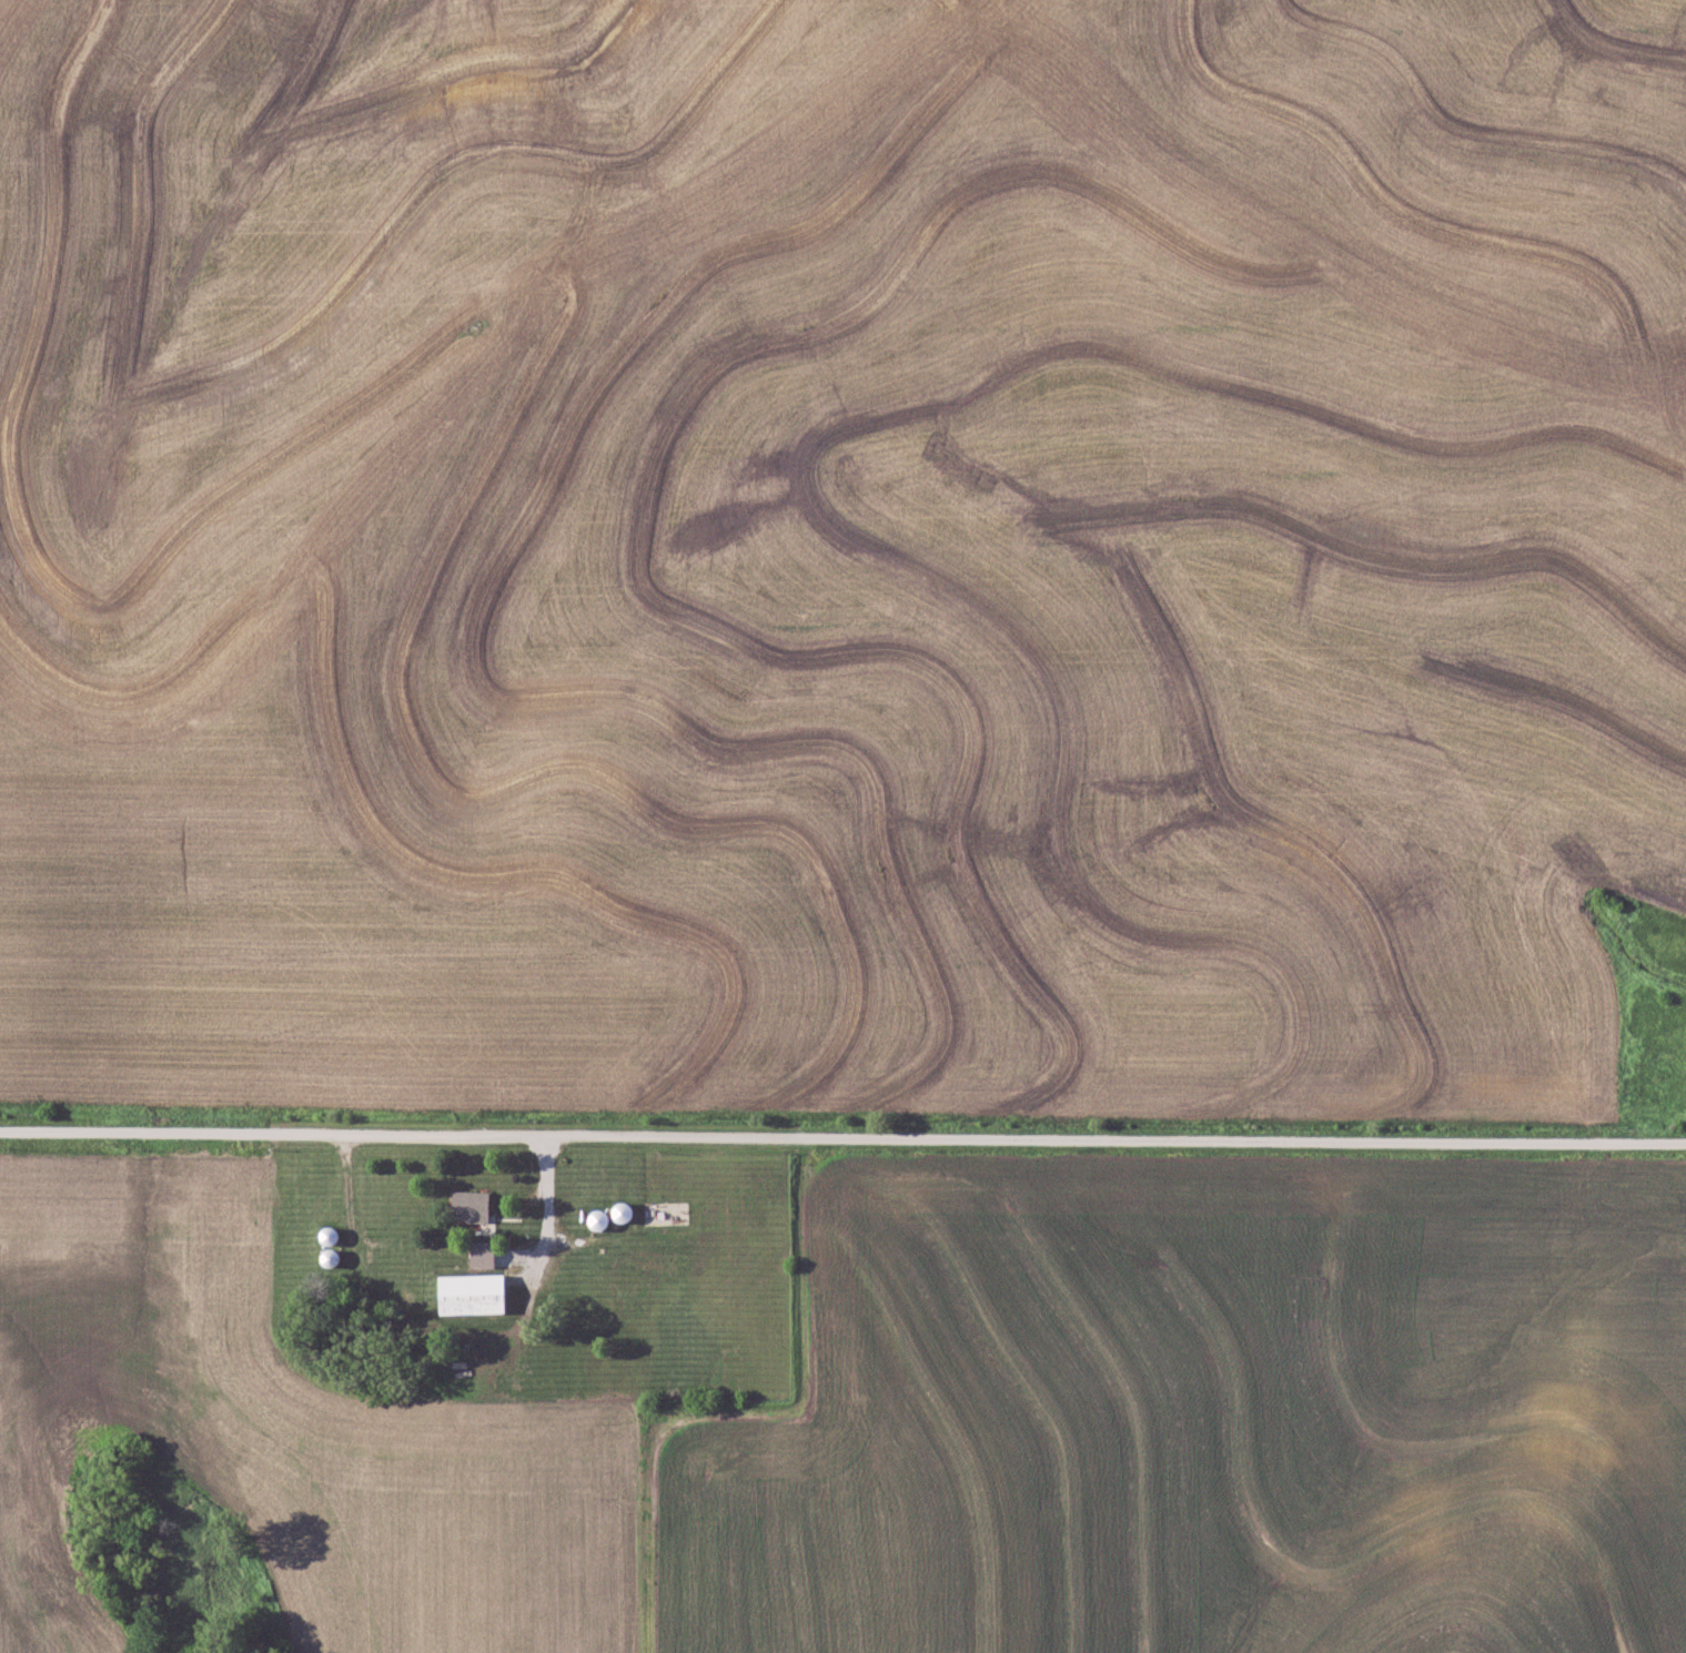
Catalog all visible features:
road: (842, 1136)
building: (466, 1204)
building: (327, 1233)
building: (380, 1245)
building: (325, 1257)
building: (466, 1292)

